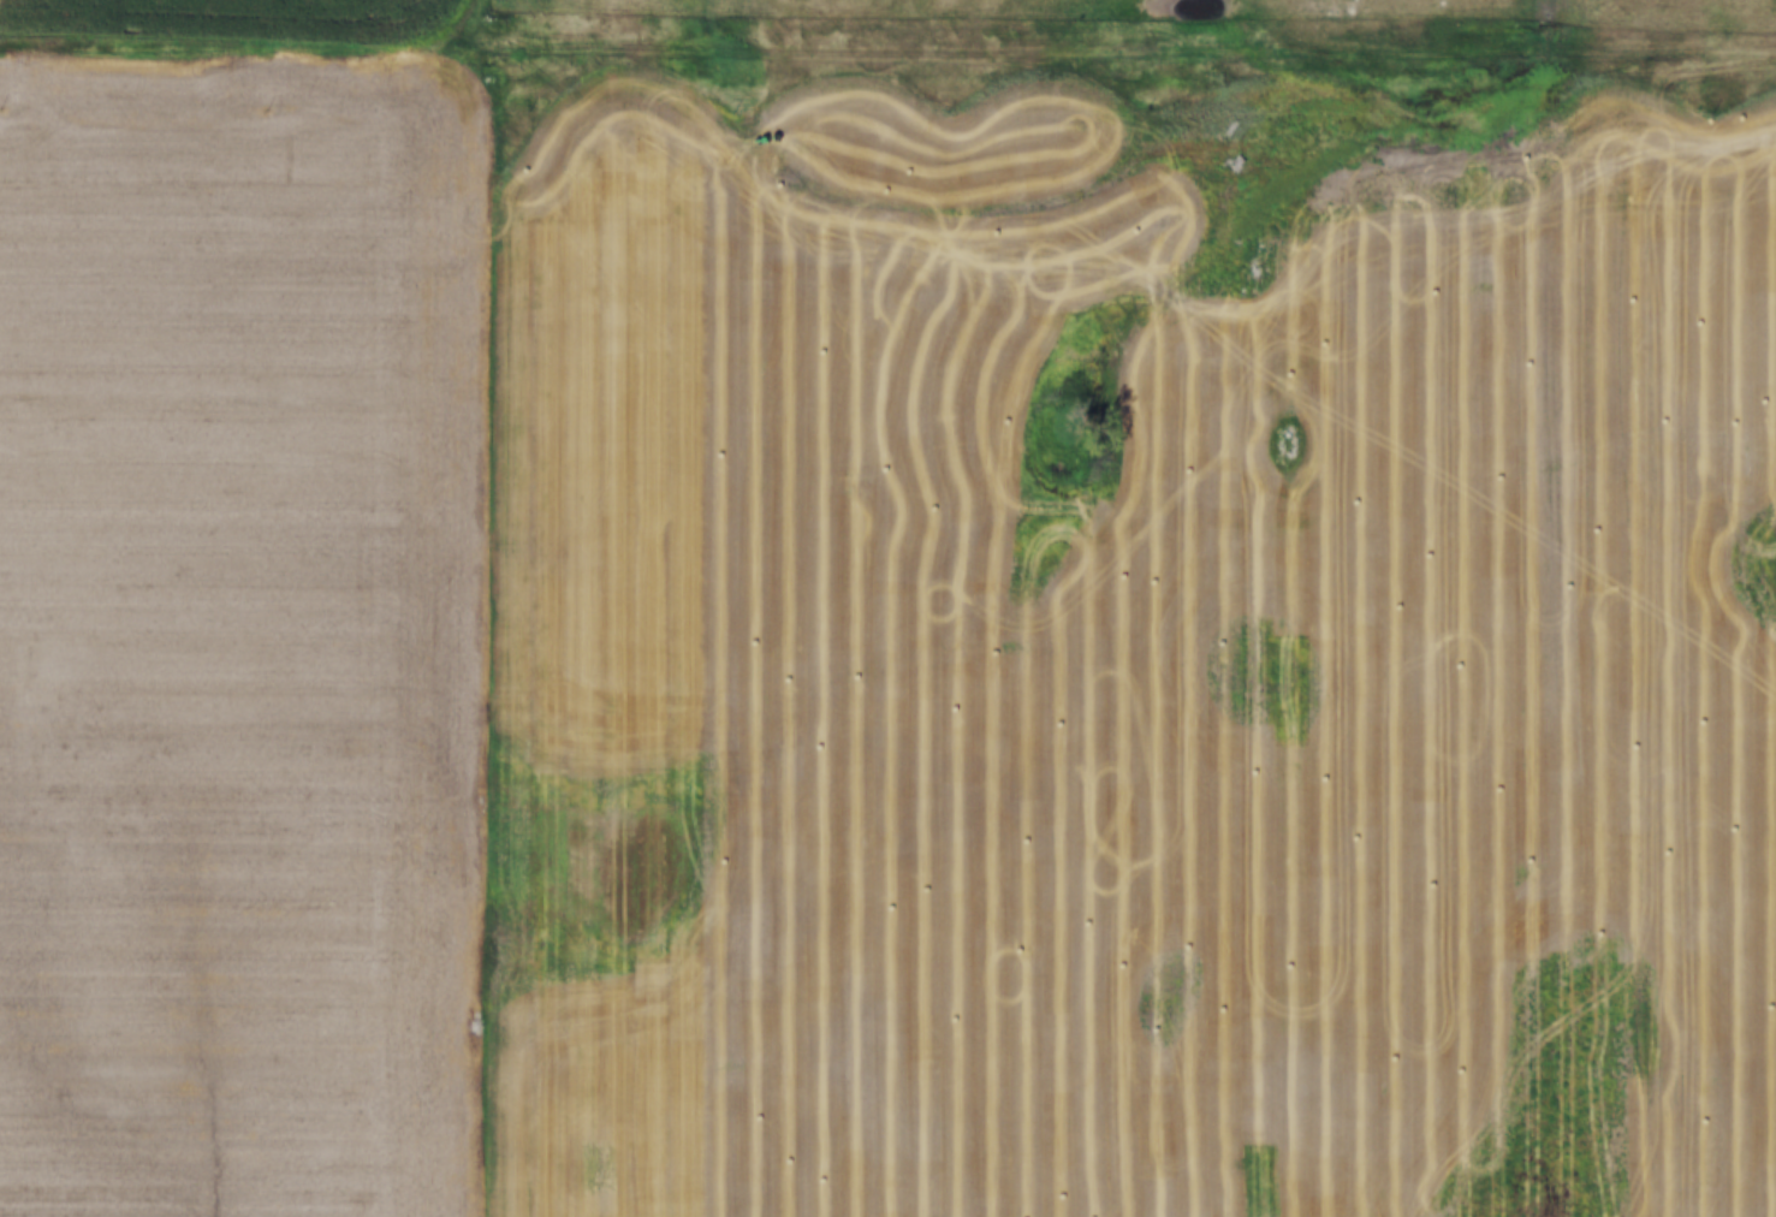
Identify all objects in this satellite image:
road: (884, 63)
road: (507, 607)

